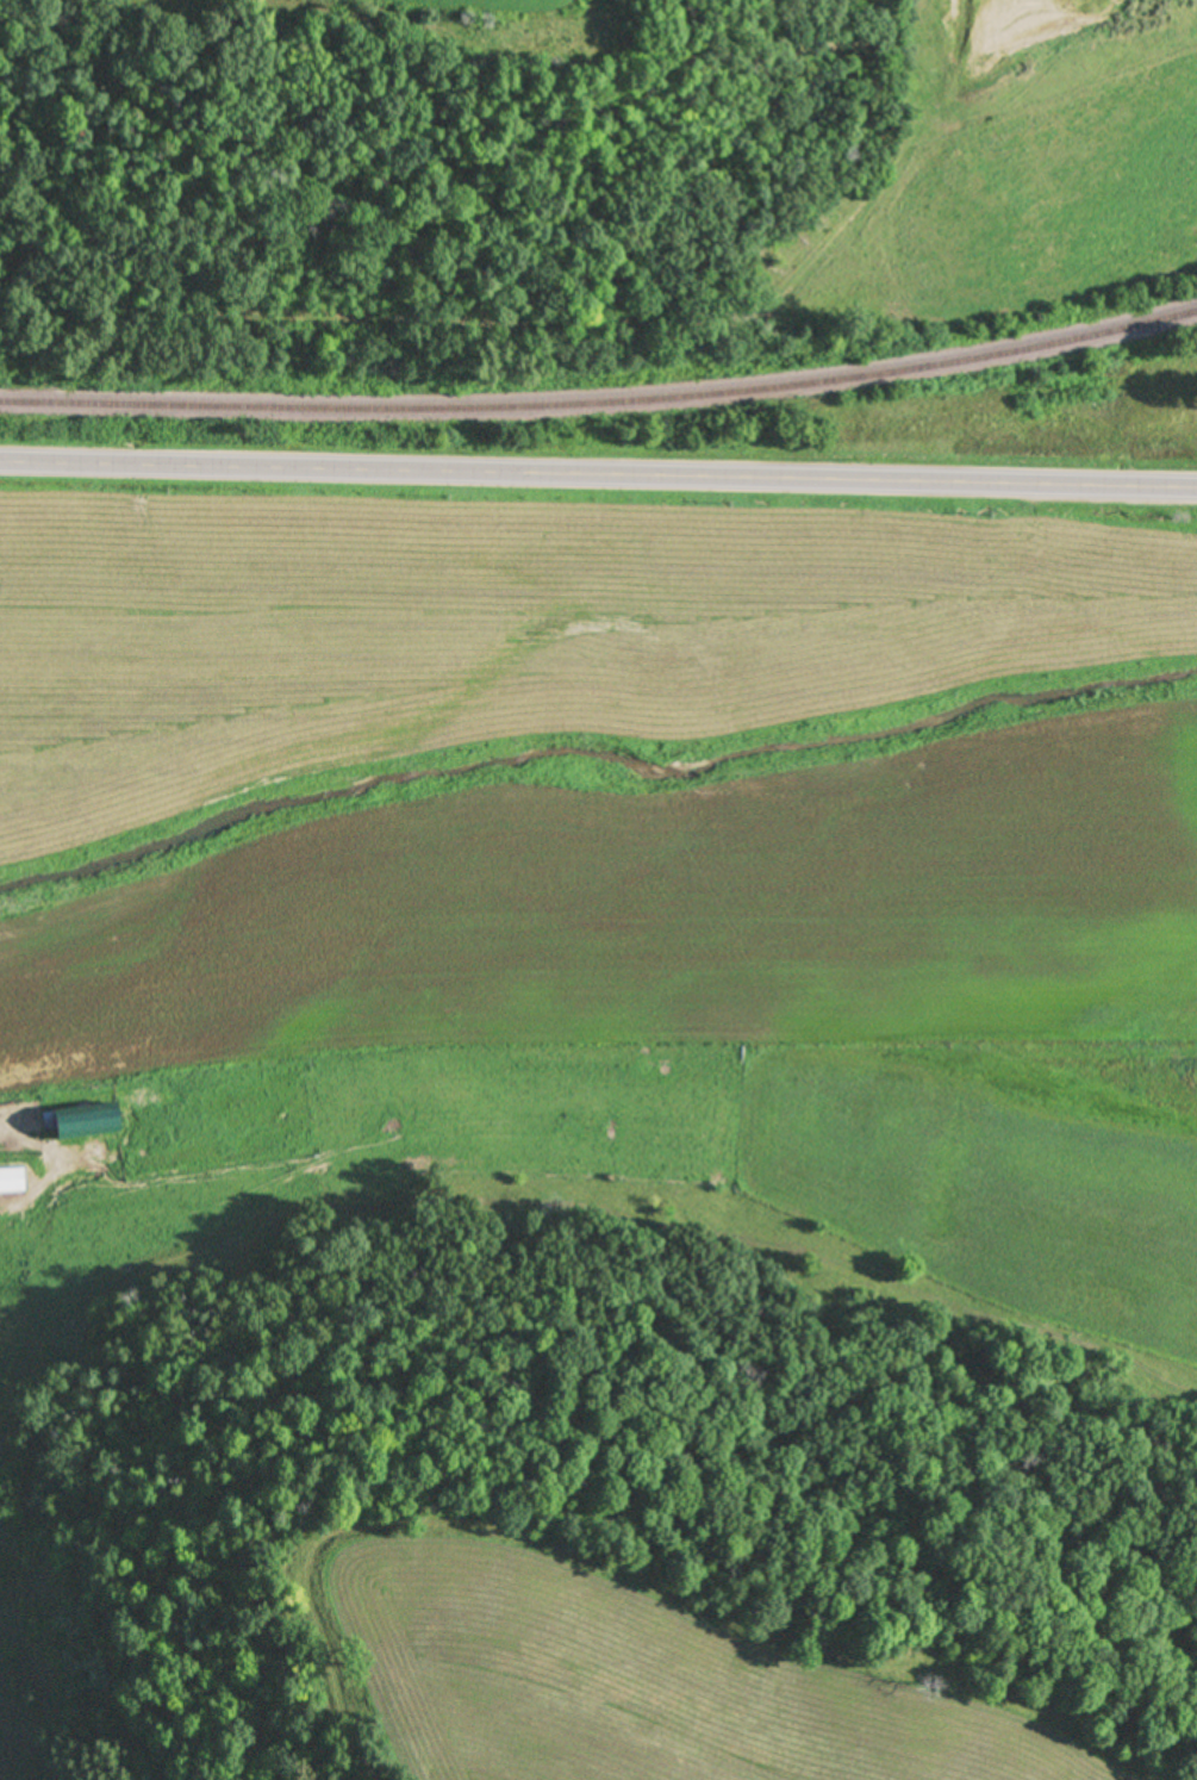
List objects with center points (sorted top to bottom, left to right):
railway: (601, 403)
road: (598, 474)
building: (82, 1120)
building: (11, 1178)

